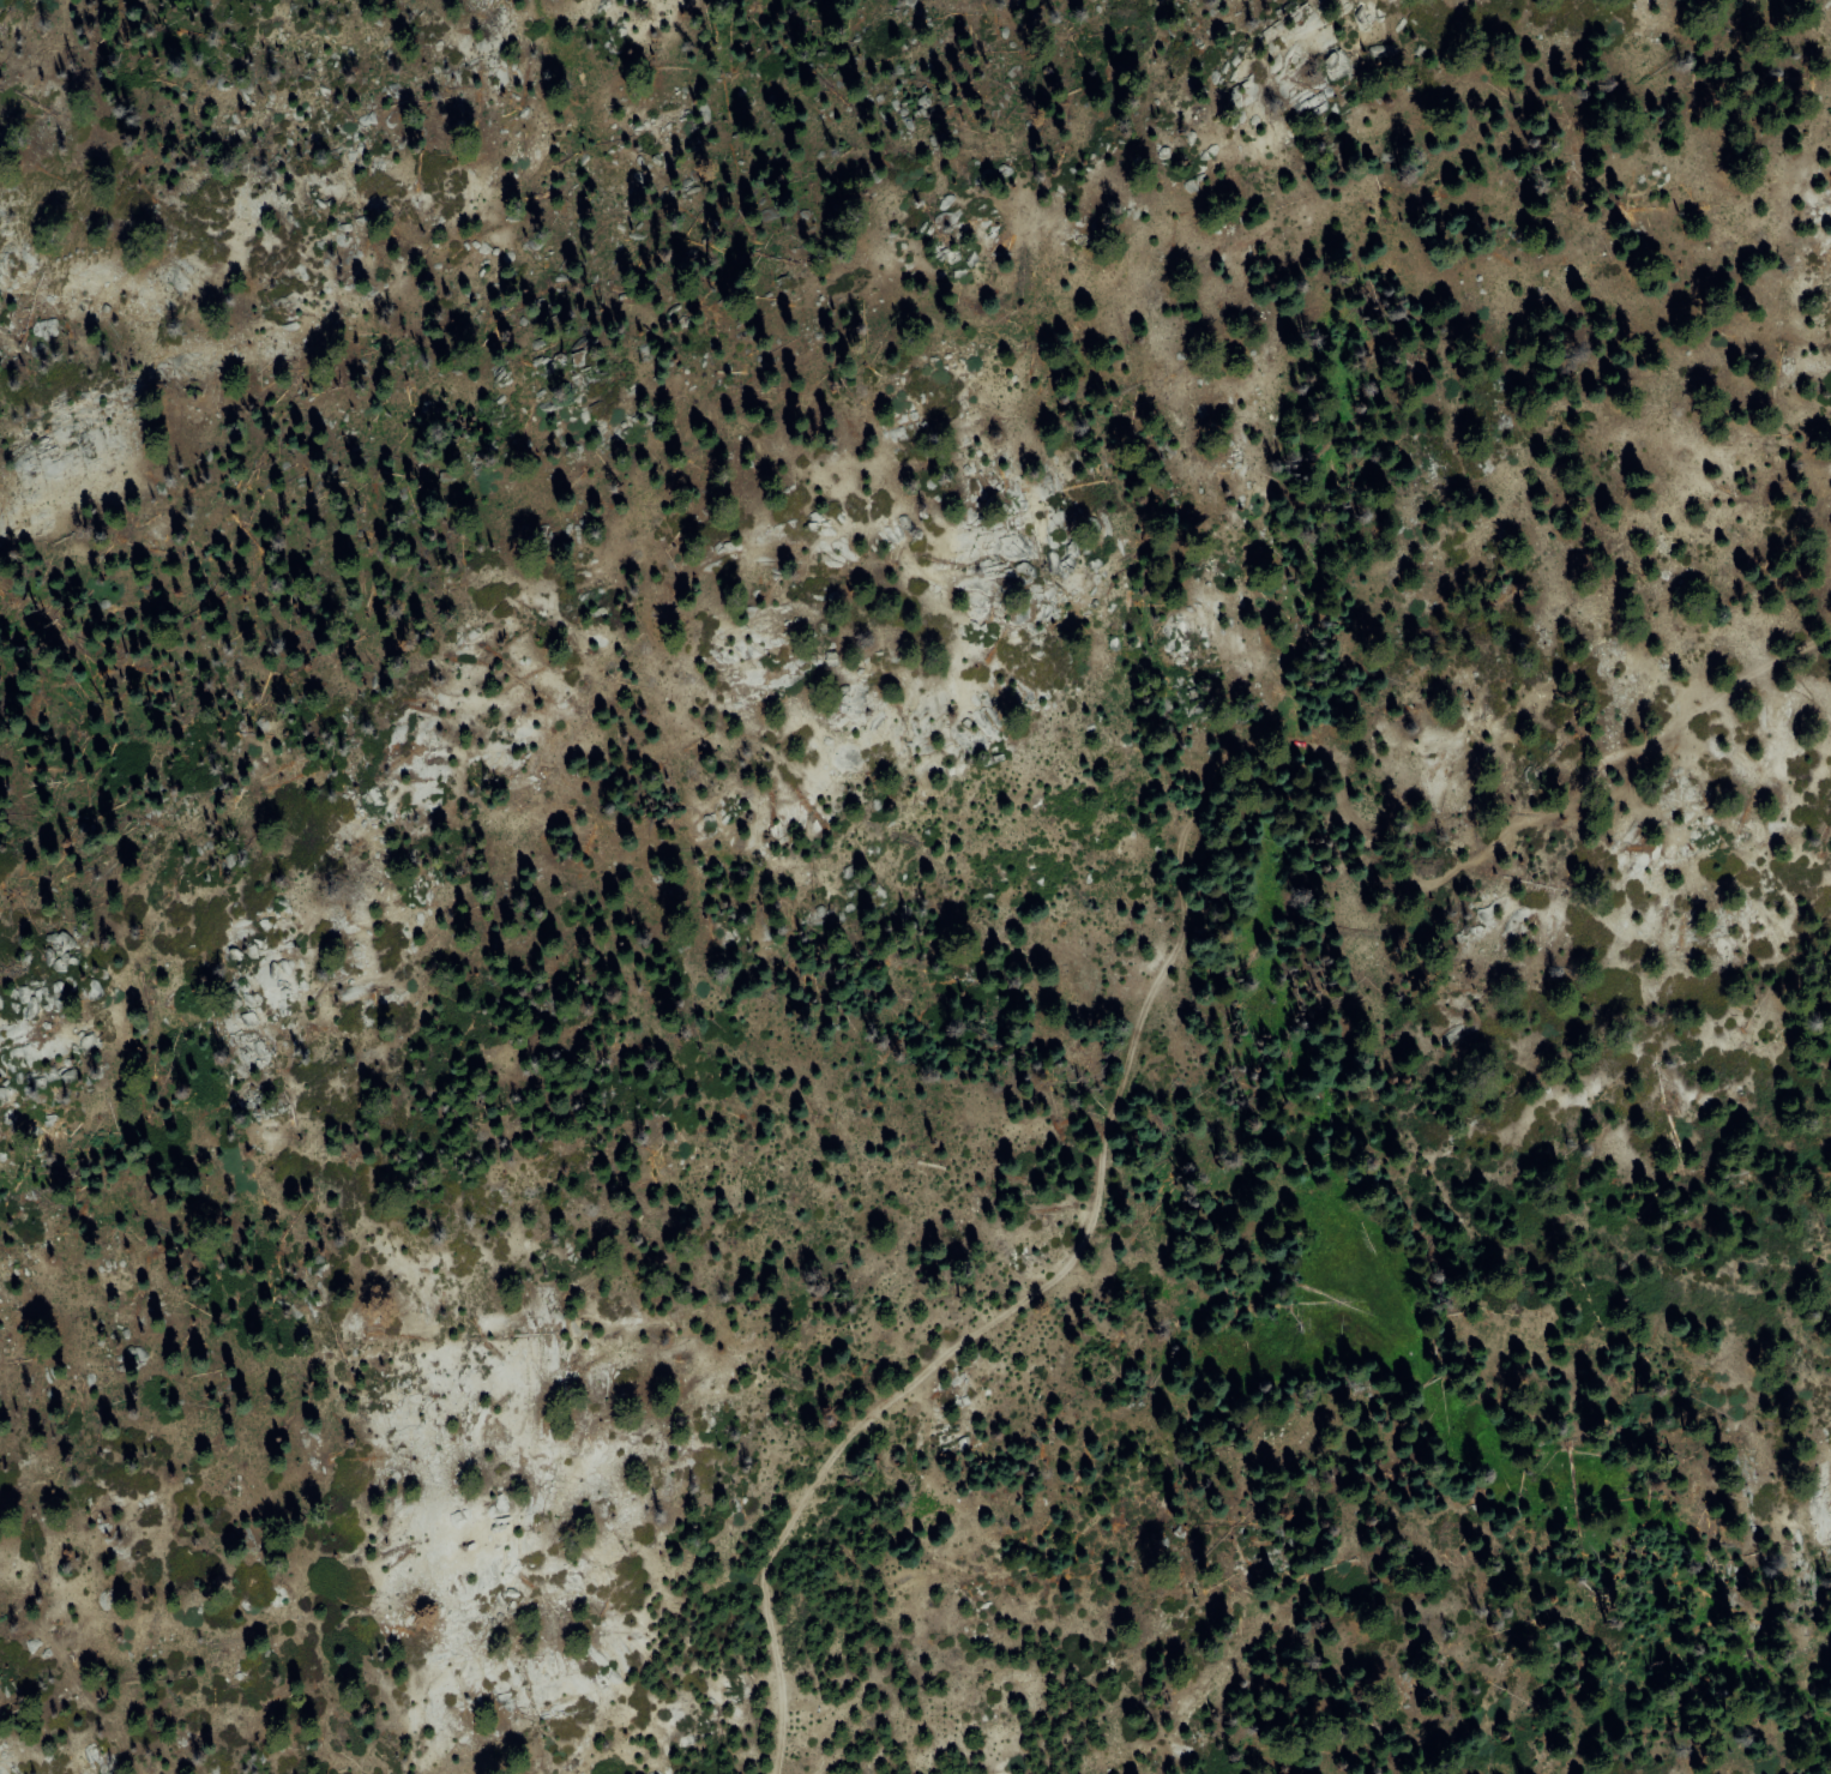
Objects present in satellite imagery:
building: (1425, 303)
road: (1548, 811)
road: (1049, 1275)
building: (1806, 1670)

